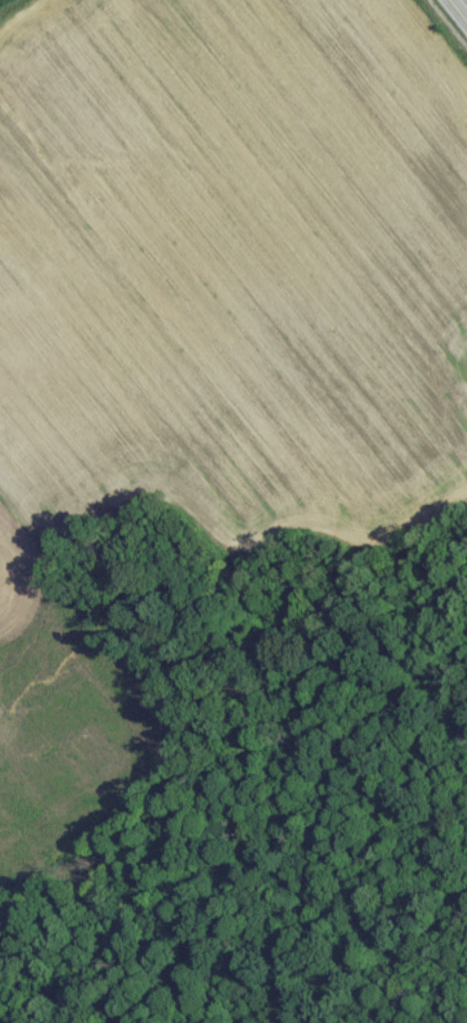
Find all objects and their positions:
road: (454, 3)
road: (456, 13)

